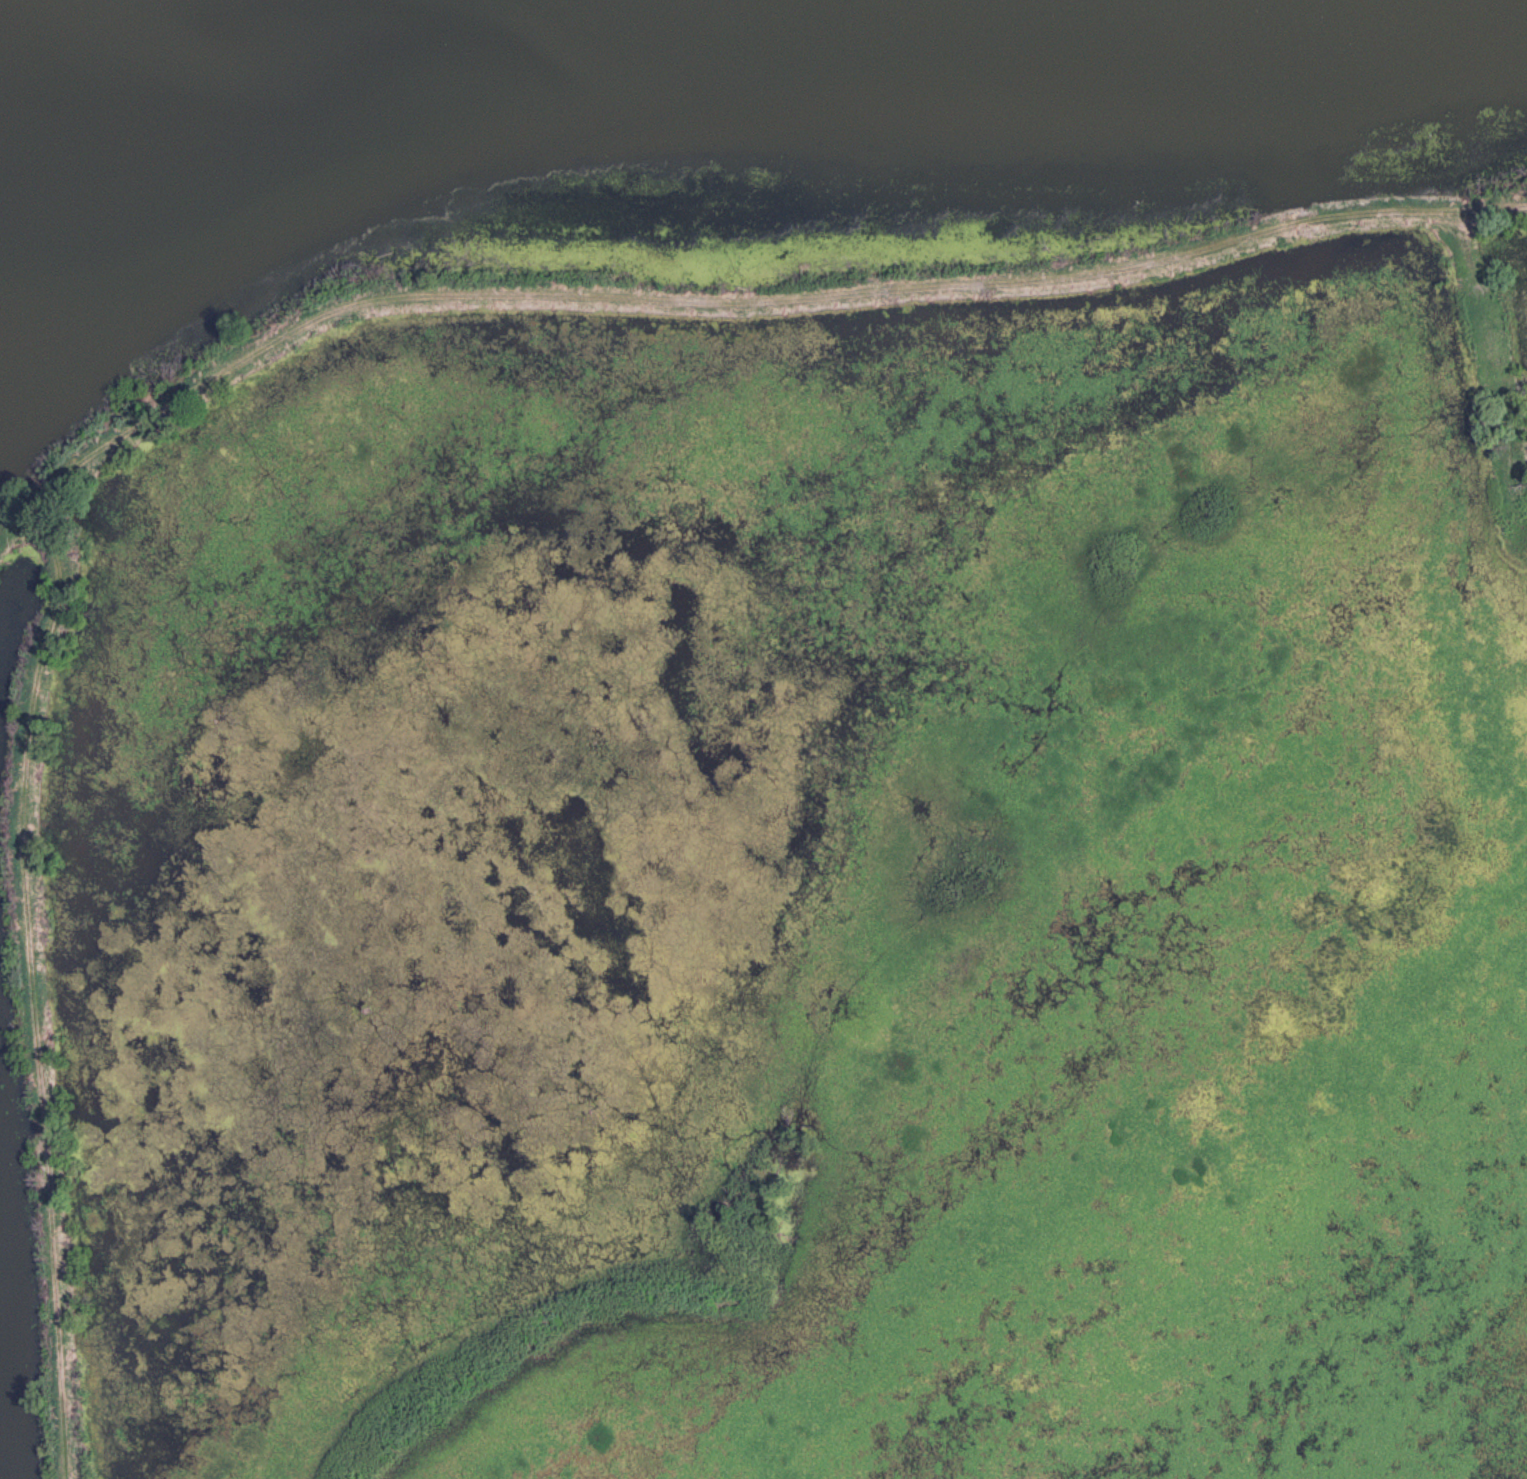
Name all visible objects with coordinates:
river: (122, 48)
road: (41, 950)

